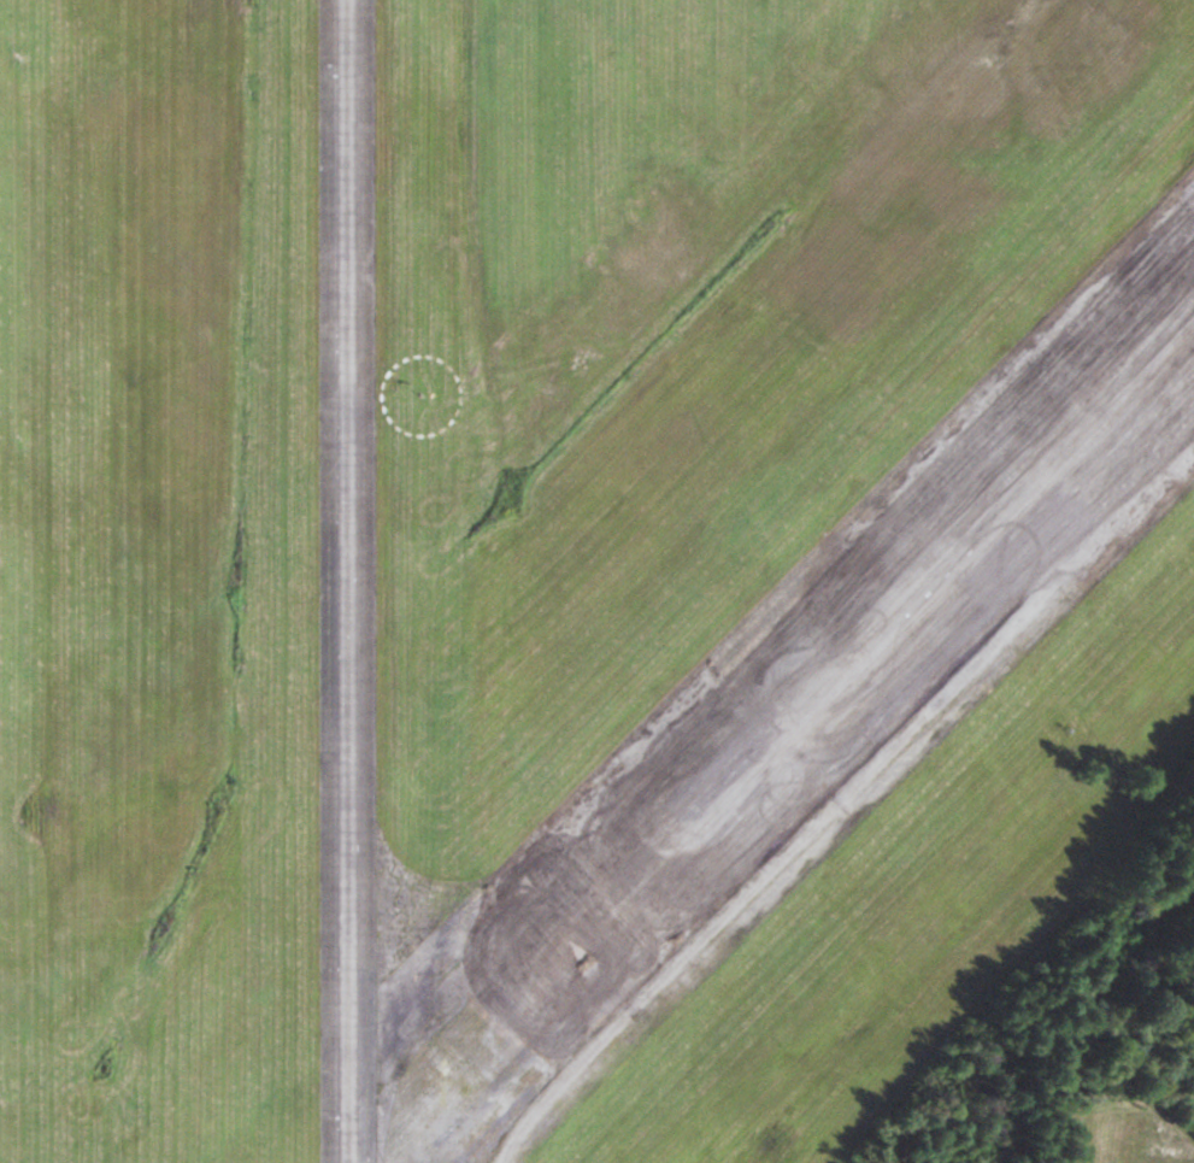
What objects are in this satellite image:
airport: (565, 560)
airport taxiway: (347, 581)

